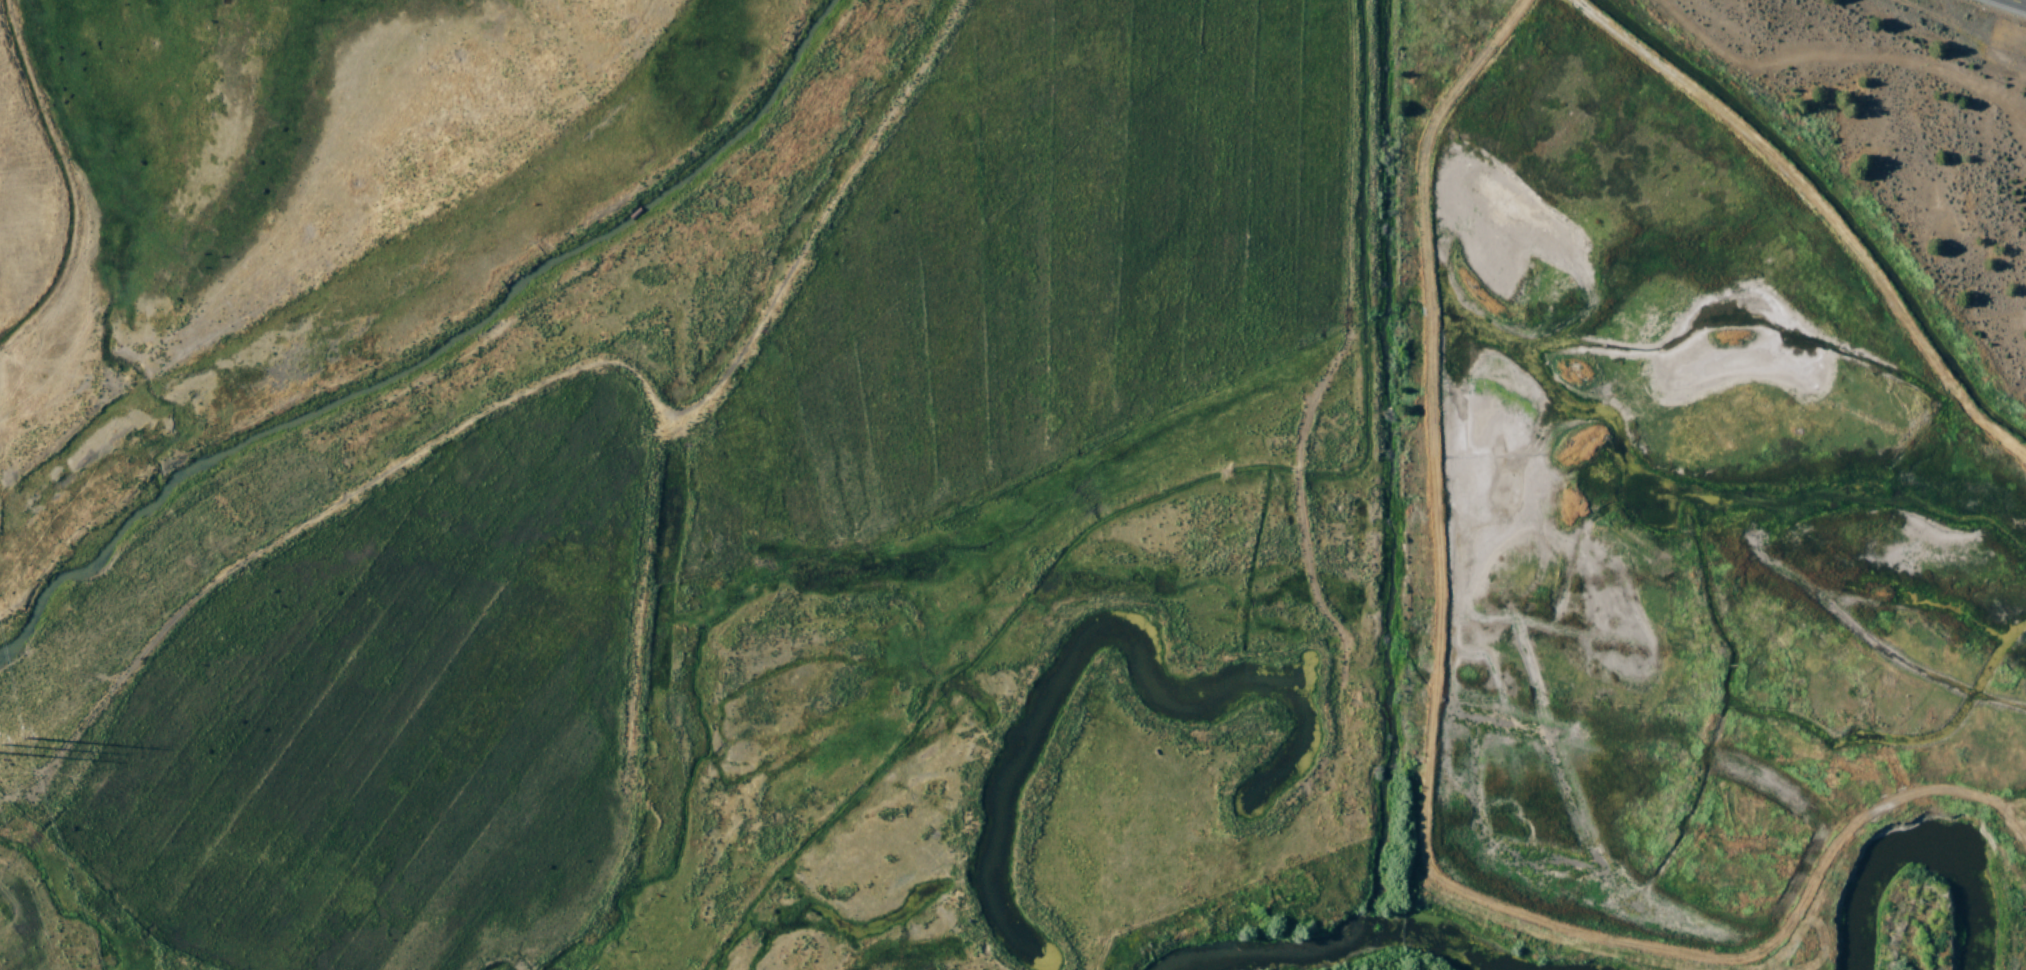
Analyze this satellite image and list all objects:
road: (2020, 1)
power tower: (9, 747)
river: (1935, 840)
river: (1389, 926)

